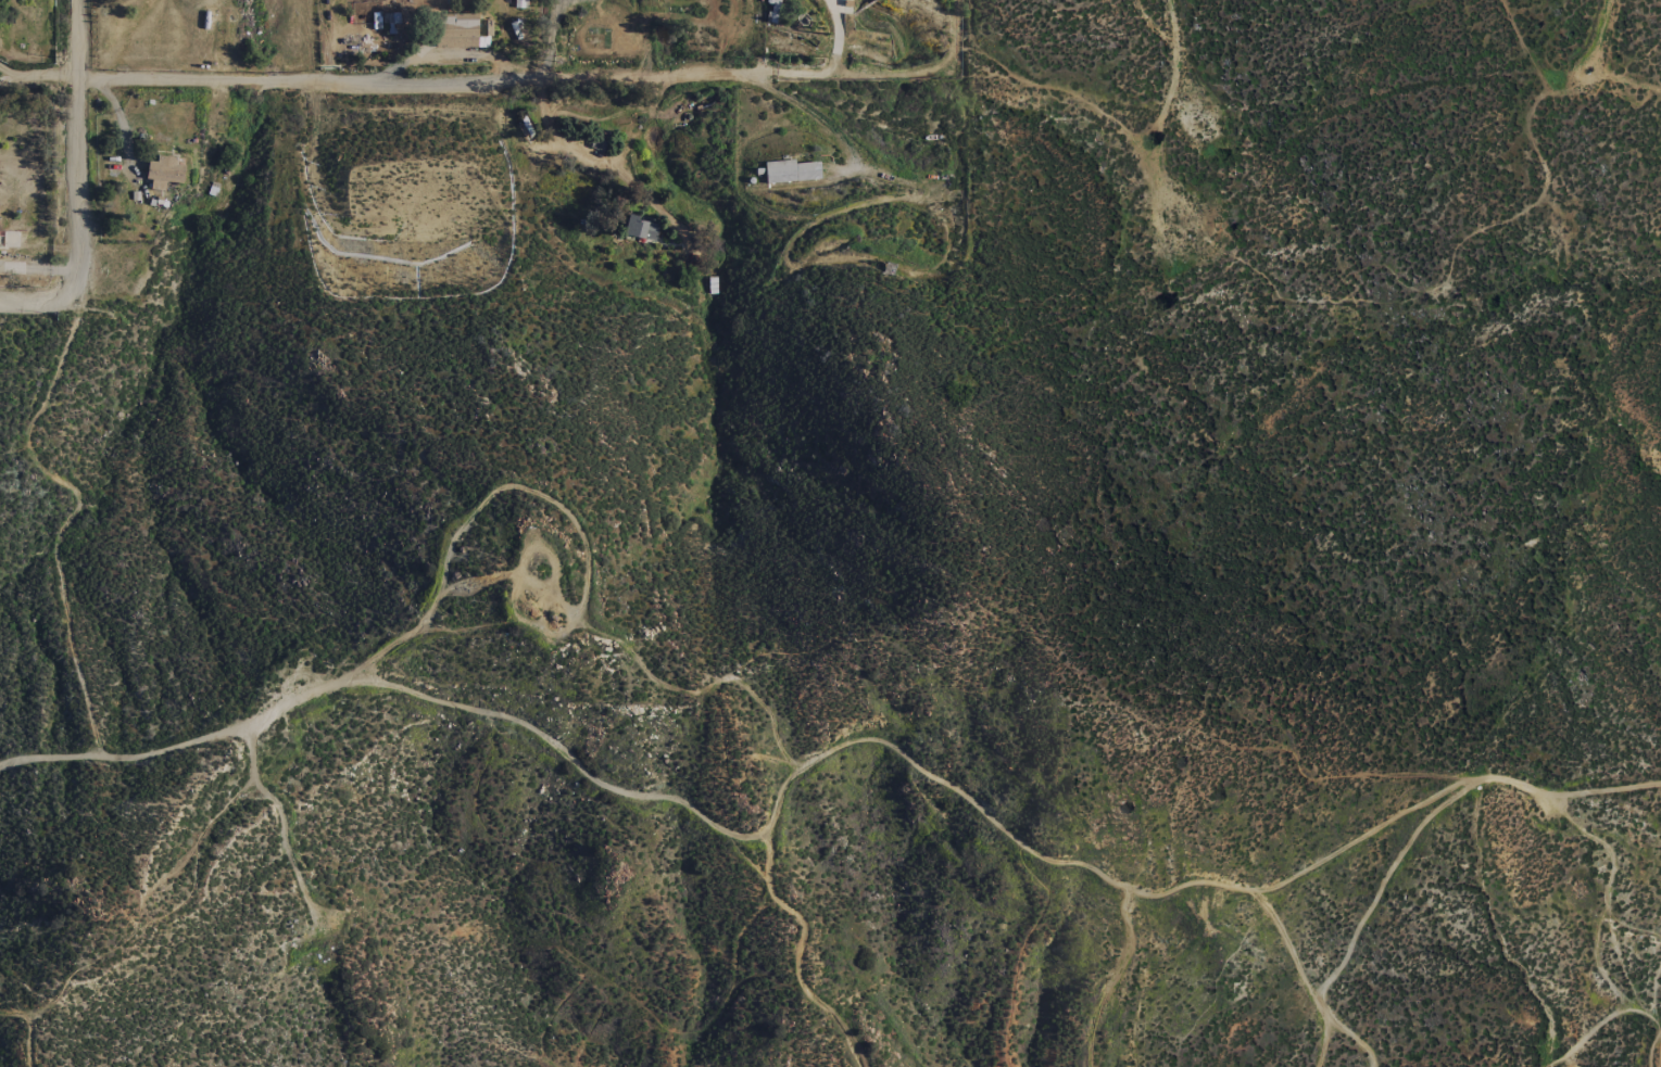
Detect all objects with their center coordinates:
building: (771, 12)
building: (458, 22)
road: (1599, 28)
road: (551, 36)
road: (1180, 54)
road: (832, 61)
road: (9, 75)
road: (33, 80)
road: (419, 84)
road: (826, 122)
road: (66, 148)
building: (789, 170)
building: (163, 172)
building: (639, 226)
road: (35, 269)
road: (36, 296)
road: (835, 758)
road: (1352, 939)
road: (1593, 1018)
road: (1654, 1040)

